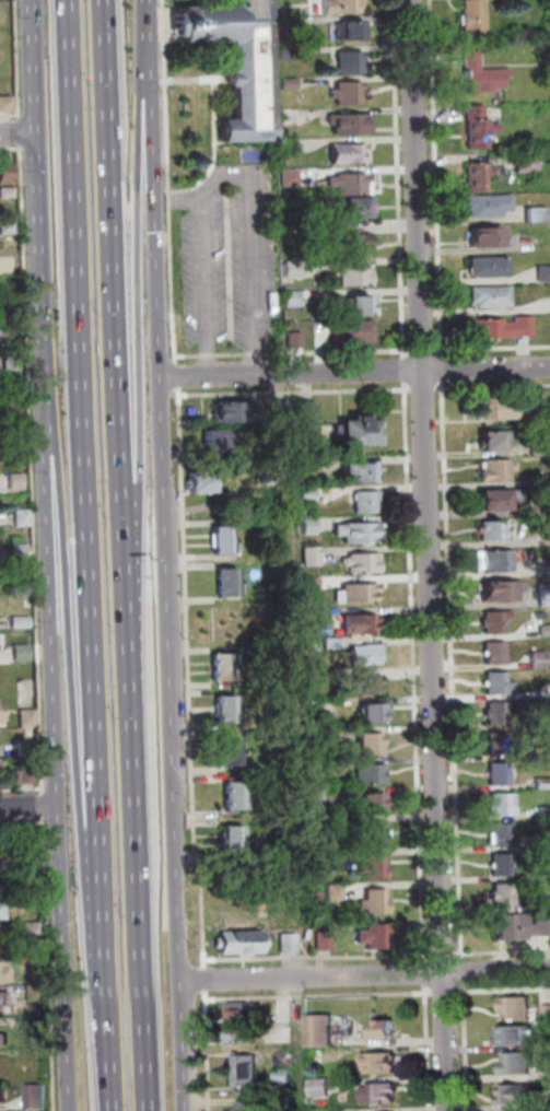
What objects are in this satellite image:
building: (341, 7)
building: (476, 17)
road: (147, 26)
building: (286, 27)
building: (346, 28)
building: (286, 52)
building: (239, 61)
building: (351, 63)
road: (17, 68)
building: (481, 73)
road: (194, 79)
building: (290, 84)
building: (349, 93)
building: (5, 103)
building: (475, 112)
building: (289, 117)
road: (20, 118)
building: (354, 121)
road: (20, 132)
building: (481, 132)
road: (17, 133)
building: (292, 145)
road: (21, 147)
road: (212, 150)
building: (349, 153)
road: (37, 161)
building: (527, 163)
road: (229, 172)
building: (7, 174)
road: (435, 176)
building: (479, 176)
building: (291, 177)
road: (397, 177)
road: (215, 182)
road: (165, 183)
building: (351, 184)
building: (8, 192)
building: (489, 206)
building: (360, 208)
building: (536, 214)
building: (292, 220)
building: (8, 227)
building: (487, 236)
building: (358, 244)
road: (227, 262)
building: (10, 264)
building: (490, 266)
parking lot: (230, 270)
building: (294, 270)
building: (543, 273)
building: (356, 277)
building: (492, 296)
building: (294, 300)
building: (363, 305)
building: (11, 313)
road: (180, 317)
building: (524, 326)
road: (116, 328)
building: (493, 328)
building: (358, 330)
building: (8, 331)
building: (297, 339)
road: (107, 346)
road: (491, 347)
road: (30, 350)
road: (420, 350)
road: (331, 351)
road: (136, 354)
road: (231, 354)
road: (251, 354)
road: (207, 355)
road: (188, 356)
building: (13, 363)
road: (441, 367)
road: (402, 369)
road: (353, 372)
road: (177, 374)
road: (492, 385)
road: (422, 387)
road: (293, 390)
building: (14, 398)
building: (499, 407)
building: (282, 408)
building: (232, 412)
building: (307, 417)
building: (360, 431)
building: (494, 440)
building: (223, 441)
building: (540, 447)
road: (32, 460)
building: (307, 465)
building: (498, 469)
building: (363, 471)
building: (16, 481)
building: (203, 481)
road: (84, 491)
building: (308, 494)
building: (499, 498)
building: (370, 502)
building: (23, 517)
building: (311, 526)
building: (494, 529)
building: (360, 533)
building: (223, 539)
building: (20, 550)
building: (313, 555)
road: (425, 555)
building: (498, 560)
building: (364, 562)
road: (165, 582)
building: (230, 582)
building: (313, 583)
building: (22, 586)
building: (499, 590)
building: (359, 594)
building: (545, 594)
building: (539, 616)
building: (320, 617)
building: (496, 621)
building: (21, 622)
building: (361, 623)
building: (545, 630)
building: (335, 644)
building: (23, 652)
road: (72, 652)
building: (494, 653)
building: (368, 654)
building: (539, 659)
building: (224, 667)
road: (450, 669)
road: (412, 671)
road: (186, 676)
building: (316, 677)
building: (499, 683)
building: (368, 686)
building: (227, 710)
building: (0, 711)
building: (375, 713)
building: (500, 713)
road: (57, 716)
building: (28, 717)
building: (328, 736)
building: (500, 744)
building: (373, 745)
building: (26, 749)
building: (232, 752)
building: (319, 767)
building: (373, 774)
building: (500, 774)
building: (24, 776)
building: (543, 783)
road: (22, 790)
building: (238, 796)
building: (320, 799)
building: (374, 804)
building: (501, 804)
road: (28, 805)
road: (45, 805)
building: (545, 812)
building: (335, 821)
road: (22, 823)
building: (376, 834)
building: (503, 834)
building: (543, 839)
building: (234, 840)
building: (340, 856)
building: (31, 865)
building: (503, 865)
building: (376, 868)
road: (137, 884)
building: (336, 892)
building: (503, 896)
building: (33, 898)
building: (377, 902)
building: (543, 904)
building: (0, 910)
building: (514, 927)
building: (542, 927)
building: (33, 929)
building: (376, 936)
building: (325, 942)
building: (243, 943)
building: (290, 944)
road: (502, 950)
road: (312, 957)
road: (49, 963)
road: (461, 970)
road: (422, 971)
road: (494, 972)
building: (2, 974)
road: (202, 976)
road: (308, 978)
road: (503, 987)
road: (443, 990)
building: (34, 993)
road: (316, 994)
building: (2, 1004)
building: (517, 1008)
building: (547, 1013)
building: (239, 1024)
building: (36, 1025)
building: (321, 1031)
building: (385, 1031)
building: (517, 1037)
building: (4, 1040)
building: (549, 1044)
road: (106, 1046)
road: (425, 1046)
road: (463, 1046)
road: (206, 1050)
building: (318, 1056)
building: (284, 1063)
building: (384, 1063)
building: (518, 1064)
building: (246, 1073)
building: (284, 1077)
building: (321, 1088)
building: (4, 1095)
building: (382, 1095)
building: (518, 1095)
building: (38, 1098)
building: (285, 1100)
building: (253, 1107)

